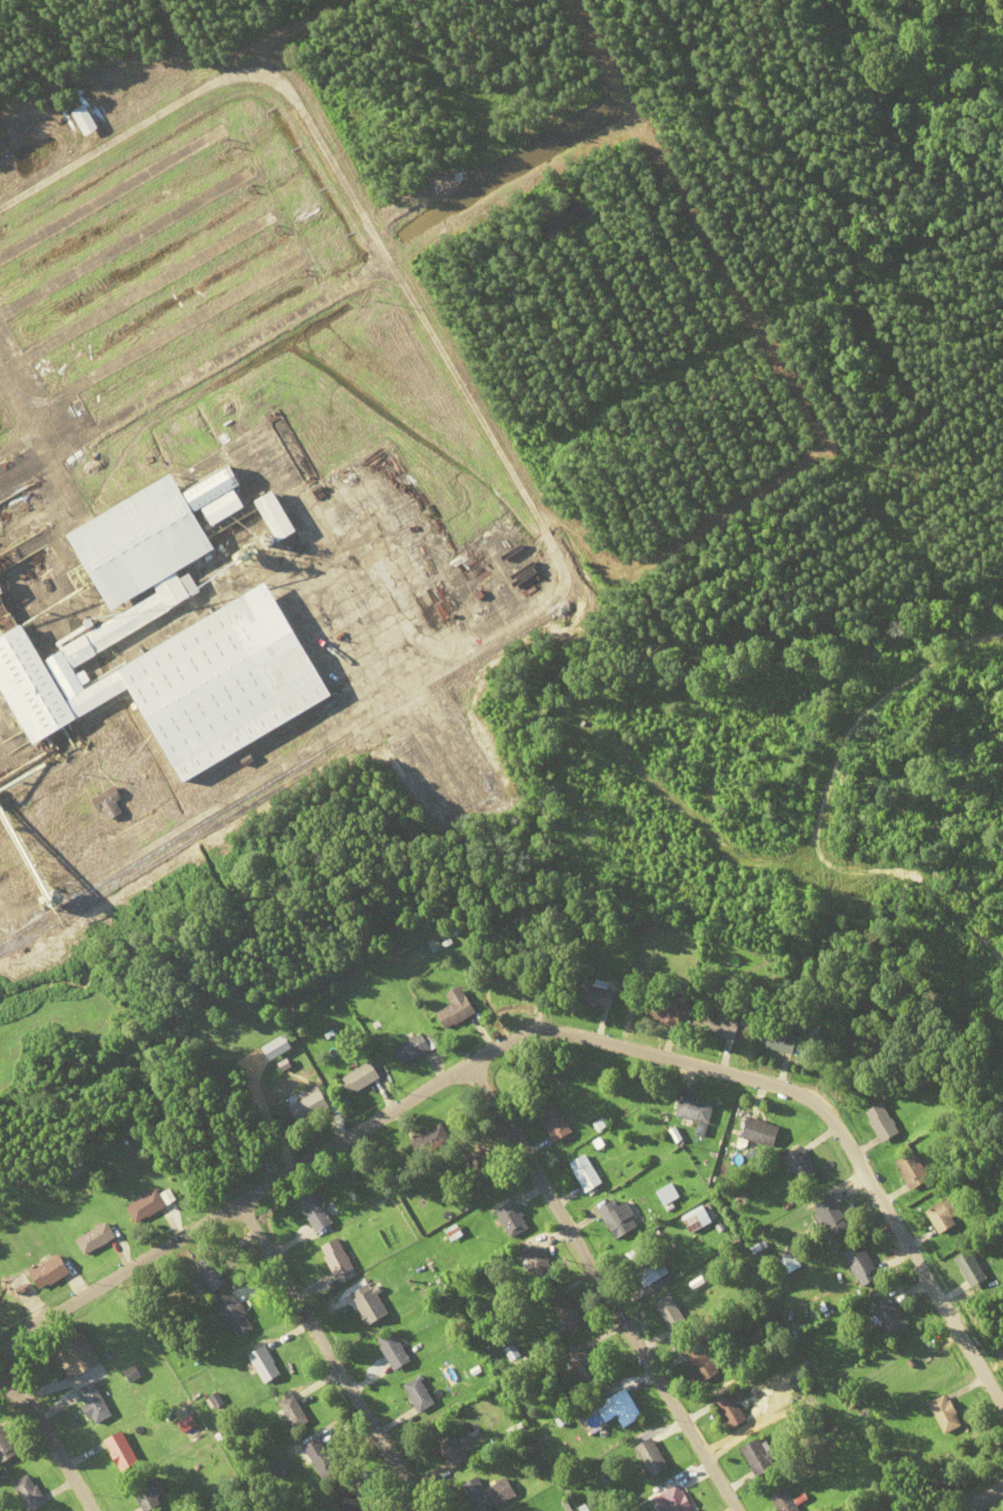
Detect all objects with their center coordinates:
building: (87, 121)
road: (506, 470)
building: (158, 538)
building: (169, 676)
railway: (275, 777)
building: (109, 803)
railway: (242, 813)
road: (3, 915)
building: (434, 945)
building: (597, 997)
building: (456, 1008)
building: (664, 1014)
building: (723, 1026)
road: (537, 1031)
building: (781, 1042)
building: (412, 1049)
building: (359, 1077)
building: (309, 1108)
building: (695, 1110)
building: (554, 1121)
building: (885, 1123)
building: (763, 1133)
building: (436, 1134)
building: (803, 1166)
building: (483, 1169)
building: (916, 1171)
building: (585, 1173)
building: (668, 1195)
building: (146, 1207)
building: (314, 1213)
building: (946, 1216)
building: (834, 1217)
building: (511, 1218)
building: (615, 1219)
building: (697, 1220)
building: (452, 1234)
building: (95, 1239)
building: (337, 1259)
building: (539, 1264)
building: (862, 1266)
building: (642, 1268)
building: (973, 1270)
building: (49, 1273)
building: (210, 1275)
road: (600, 1287)
building: (366, 1305)
building: (234, 1315)
building: (570, 1315)
building: (672, 1316)
building: (892, 1320)
building: (392, 1351)
building: (74, 1355)
road: (332, 1357)
building: (702, 1363)
building: (583, 1364)
building: (264, 1365)
building: (417, 1395)
building: (94, 1403)
building: (619, 1410)
building: (729, 1410)
building: (293, 1412)
building: (946, 1414)
road: (46, 1439)
building: (5, 1448)
building: (449, 1449)
building: (121, 1452)
building: (757, 1458)
building: (320, 1460)
building: (651, 1460)
building: (28, 1493)
building: (148, 1493)
building: (487, 1495)
road: (983, 1499)
building: (671, 1501)
building: (783, 1501)

